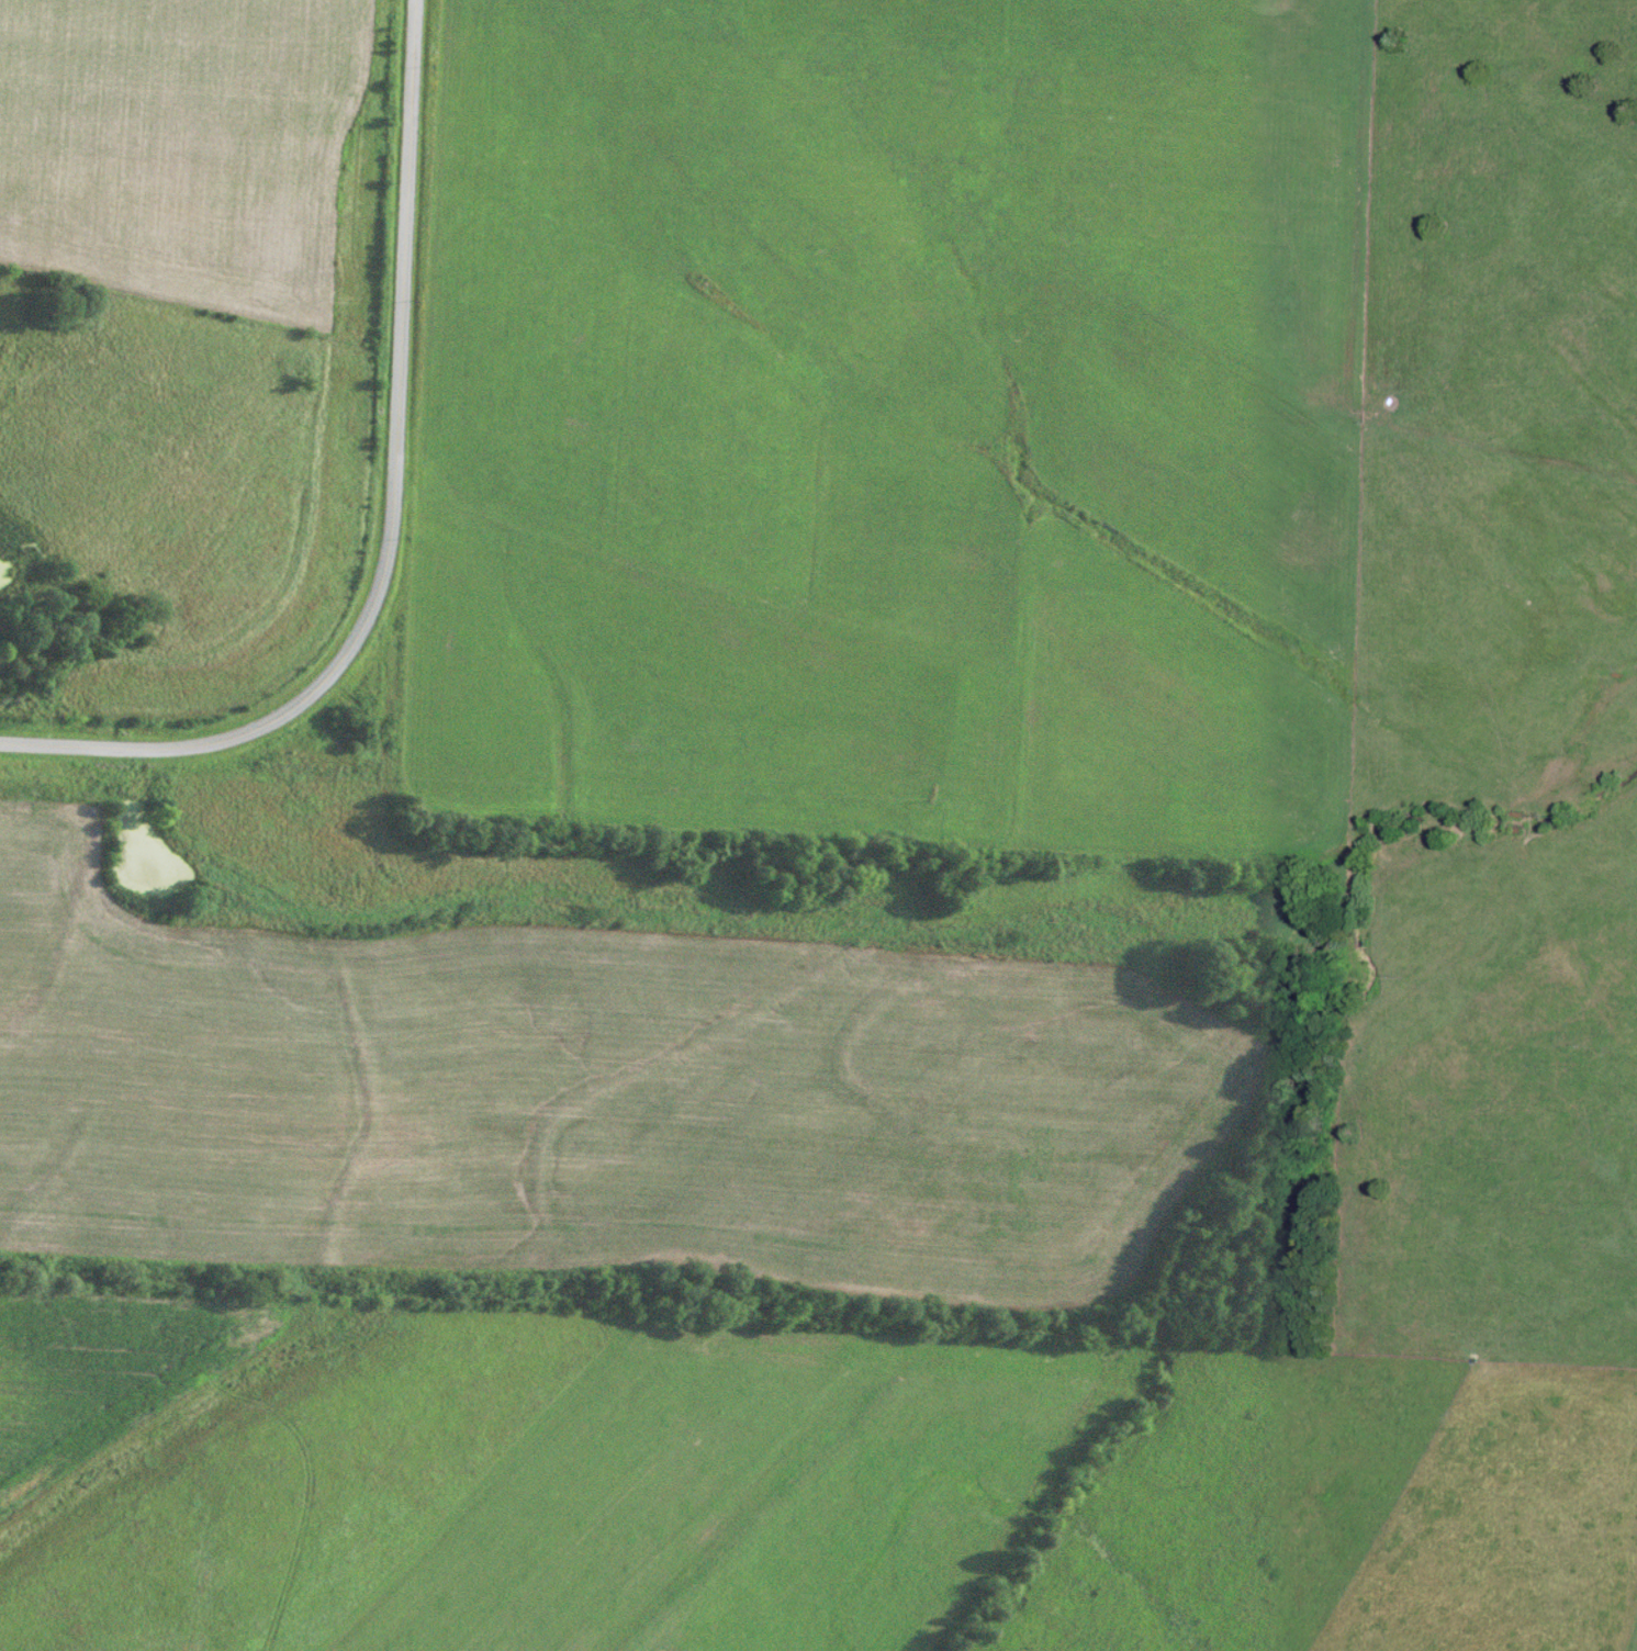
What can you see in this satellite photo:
road: (396, 521)

